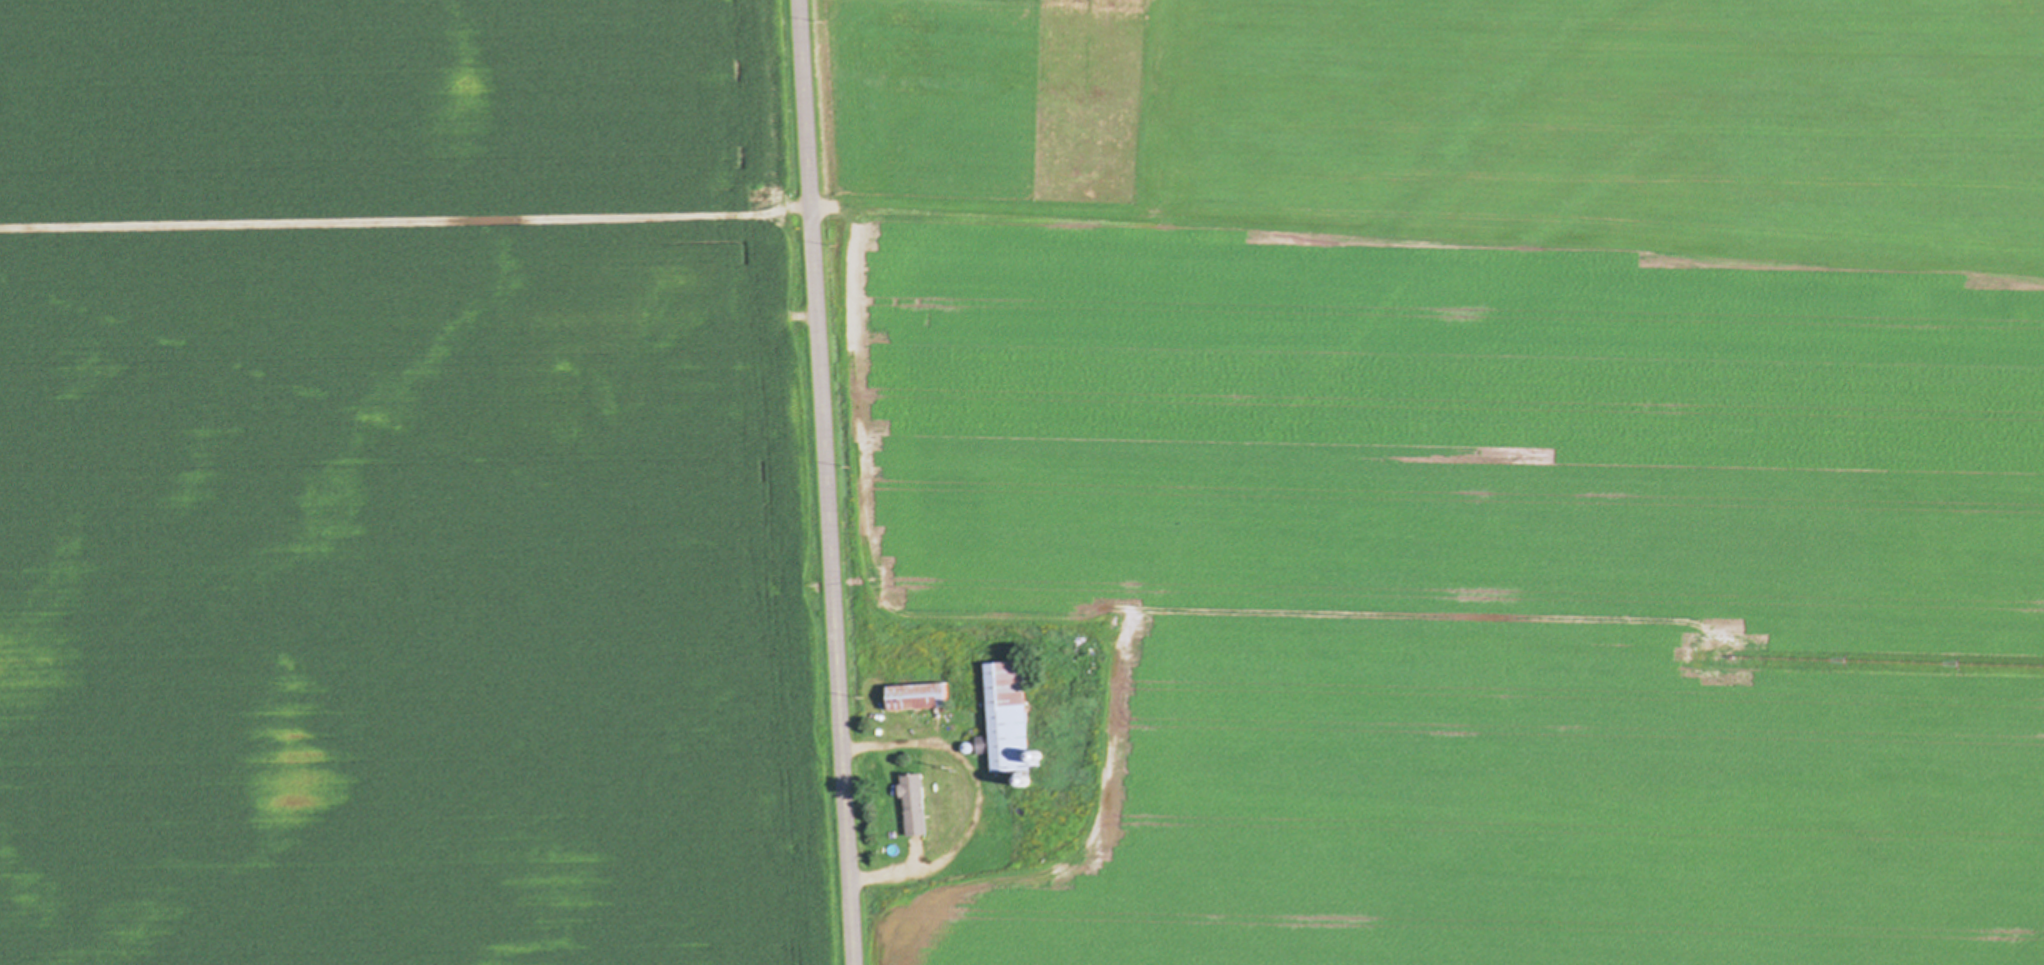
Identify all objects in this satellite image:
road: (823, 482)
building: (918, 696)
building: (1006, 716)
road: (974, 799)
building: (914, 805)

